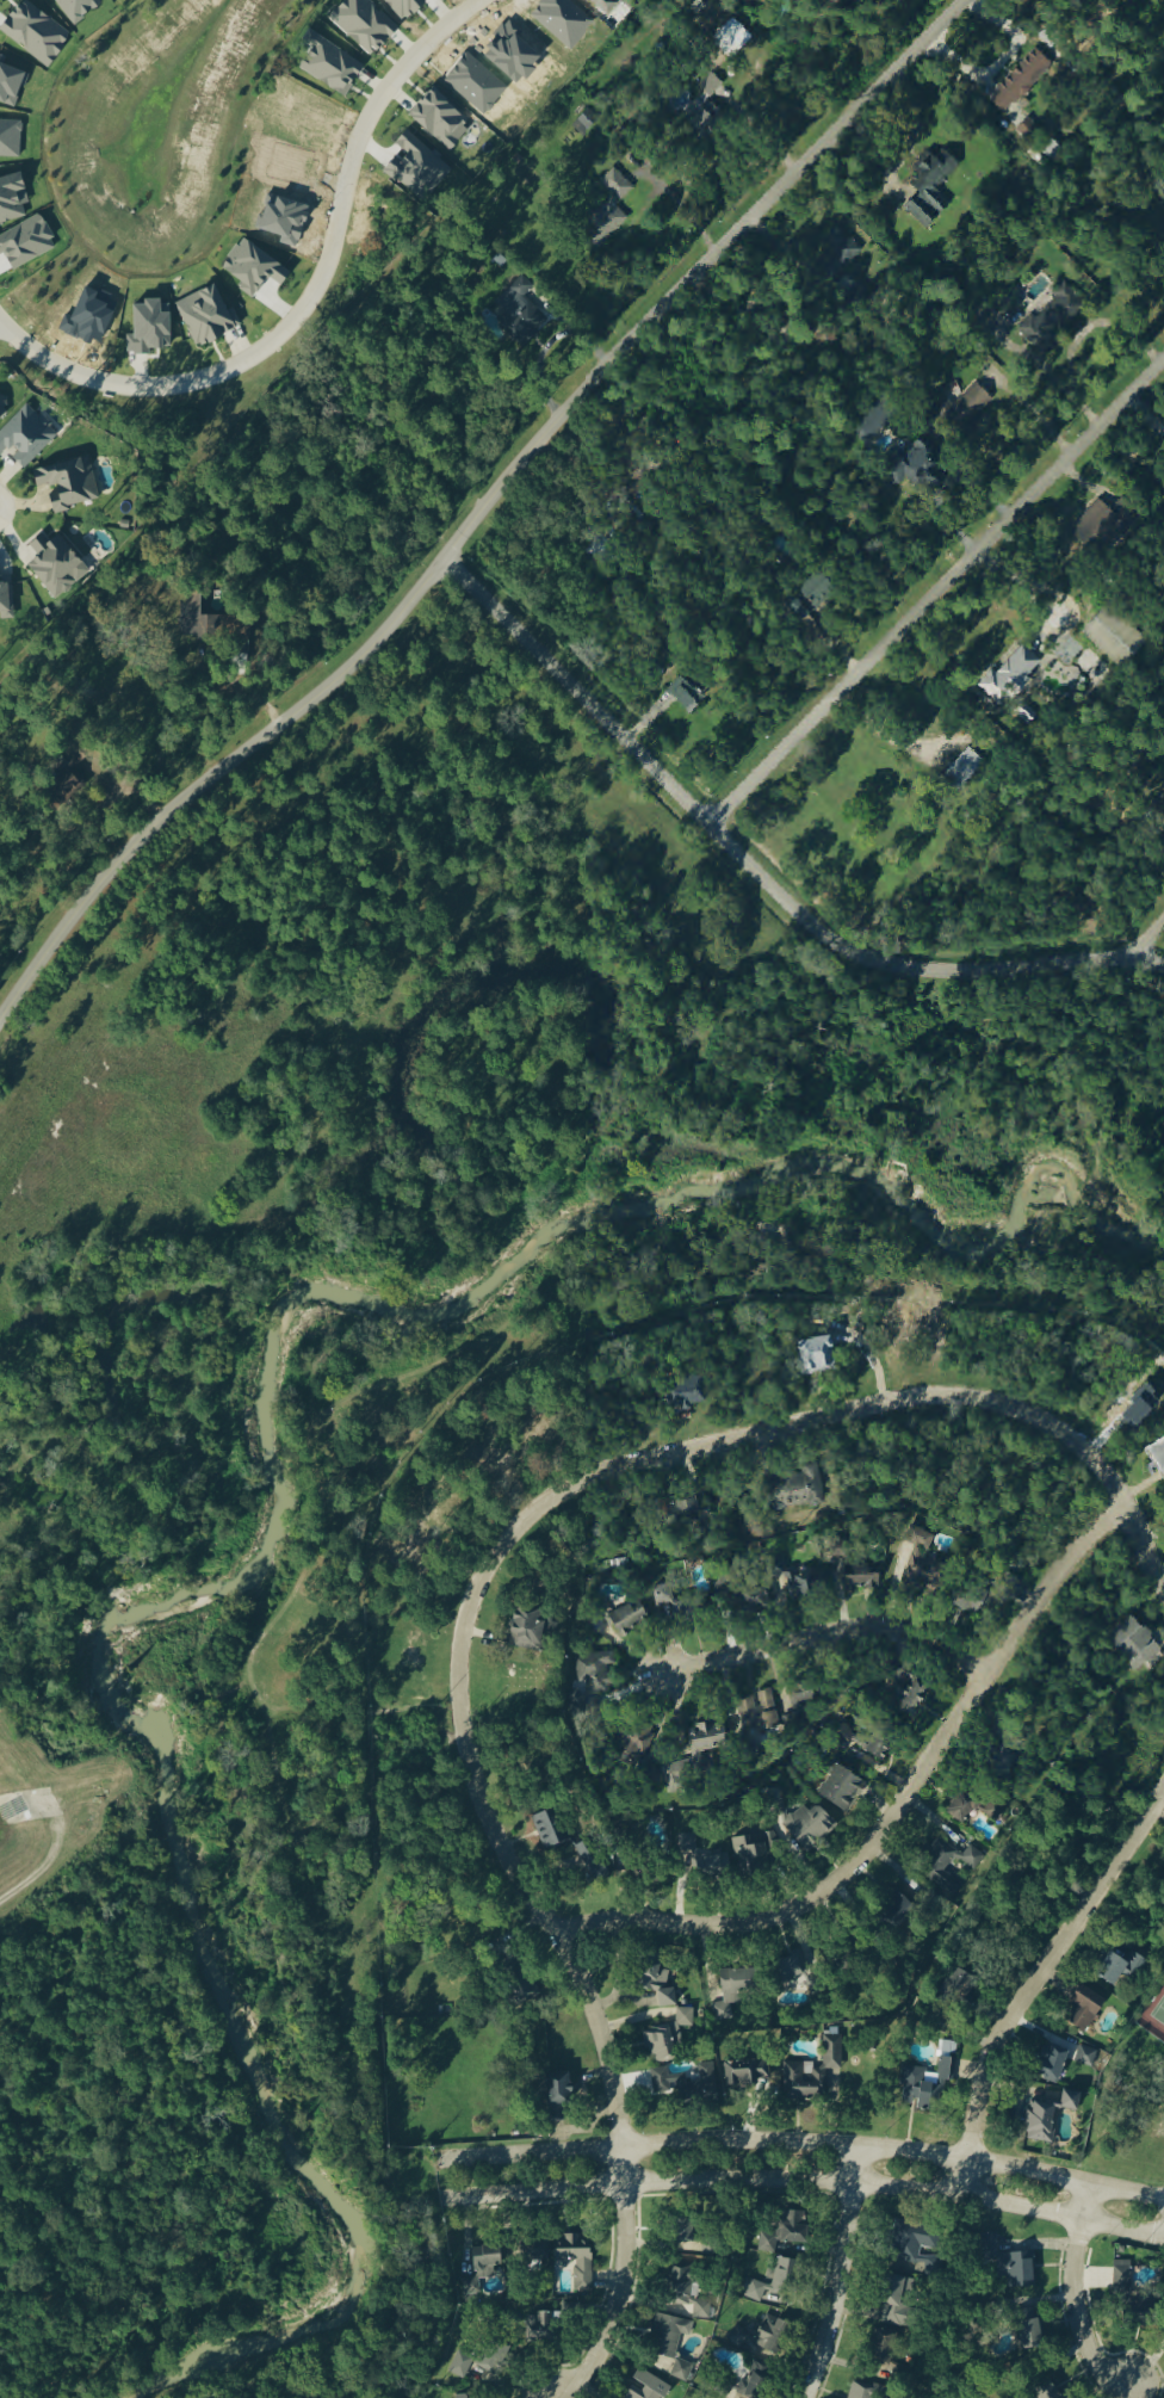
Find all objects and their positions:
building: (1144, 4)
building: (609, 6)
building: (369, 25)
building: (335, 69)
building: (1024, 84)
building: (716, 88)
building: (442, 118)
building: (713, 119)
building: (587, 123)
building: (1030, 131)
road: (904, 159)
building: (935, 190)
building: (14, 199)
building: (614, 204)
road: (631, 227)
building: (842, 252)
road: (696, 271)
road: (310, 301)
building: (521, 315)
building: (210, 316)
building: (1058, 320)
building: (153, 327)
road: (1081, 340)
building: (973, 407)
building: (2, 414)
building: (878, 425)
building: (26, 438)
building: (930, 466)
building: (69, 484)
building: (1109, 520)
building: (60, 564)
road: (936, 592)
building: (7, 604)
building: (205, 622)
building: (1119, 638)
building: (1016, 679)
building: (691, 696)
building: (967, 770)
road: (209, 775)
road: (755, 870)
road: (1147, 939)
building: (815, 1358)
building: (696, 1397)
building: (538, 1432)
building: (1157, 1457)
building: (497, 1472)
building: (795, 1490)
river: (279, 1504)
building: (438, 1507)
building: (450, 1508)
building: (682, 1515)
building: (417, 1552)
building: (930, 1569)
building: (860, 1580)
building: (795, 1584)
building: (739, 1590)
road: (473, 1594)
building: (982, 1595)
building: (663, 1597)
building: (691, 1612)
building: (629, 1621)
building: (526, 1628)
road: (831, 1640)
building: (1143, 1645)
building: (405, 1667)
building: (593, 1685)
building: (906, 1692)
building: (803, 1698)
building: (757, 1716)
building: (869, 1739)
building: (634, 1754)
building: (694, 1761)
building: (841, 1791)
road: (892, 1807)
building: (992, 1810)
building: (809, 1831)
building: (546, 1833)
building: (748, 1856)
building: (935, 1861)
building: (590, 1862)
building: (945, 1864)
building: (700, 1865)
building: (634, 1866)
building: (897, 1910)
building: (790, 1969)
building: (1119, 1970)
building: (648, 1972)
building: (512, 1982)
road: (1030, 1983)
building: (738, 1984)
building: (668, 1986)
building: (1078, 2013)
park: (1153, 2014)
building: (665, 2029)
building: (1085, 2056)
building: (1050, 2063)
building: (810, 2072)
building: (736, 2077)
building: (705, 2078)
building: (661, 2082)
building: (924, 2085)
building: (556, 2090)
park: (1131, 2097)
building: (1046, 2116)
road: (893, 2150)
road: (528, 2151)
road: (896, 2190)
road: (533, 2193)
building: (679, 2227)
building: (792, 2229)
building: (927, 2237)
building: (908, 2244)
building: (531, 2249)
building: (704, 2251)
building: (575, 2257)
building: (479, 2267)
building: (936, 2267)
building: (1014, 2270)
road: (847, 2275)
building: (786, 2279)
building: (1120, 2282)
building: (680, 2285)
road: (1073, 2295)
building: (894, 2297)
building: (694, 2298)
building: (906, 2307)
building: (1135, 2319)
building: (544, 2323)
building: (1028, 2332)
building: (769, 2334)
building: (667, 2336)
building: (744, 2340)
building: (879, 2349)
building: (478, 2360)
building: (683, 2372)
building: (897, 2374)
building: (757, 2386)
building: (644, 2387)
building: (1045, 2390)
building: (865, 2392)
building: (468, 2396)

